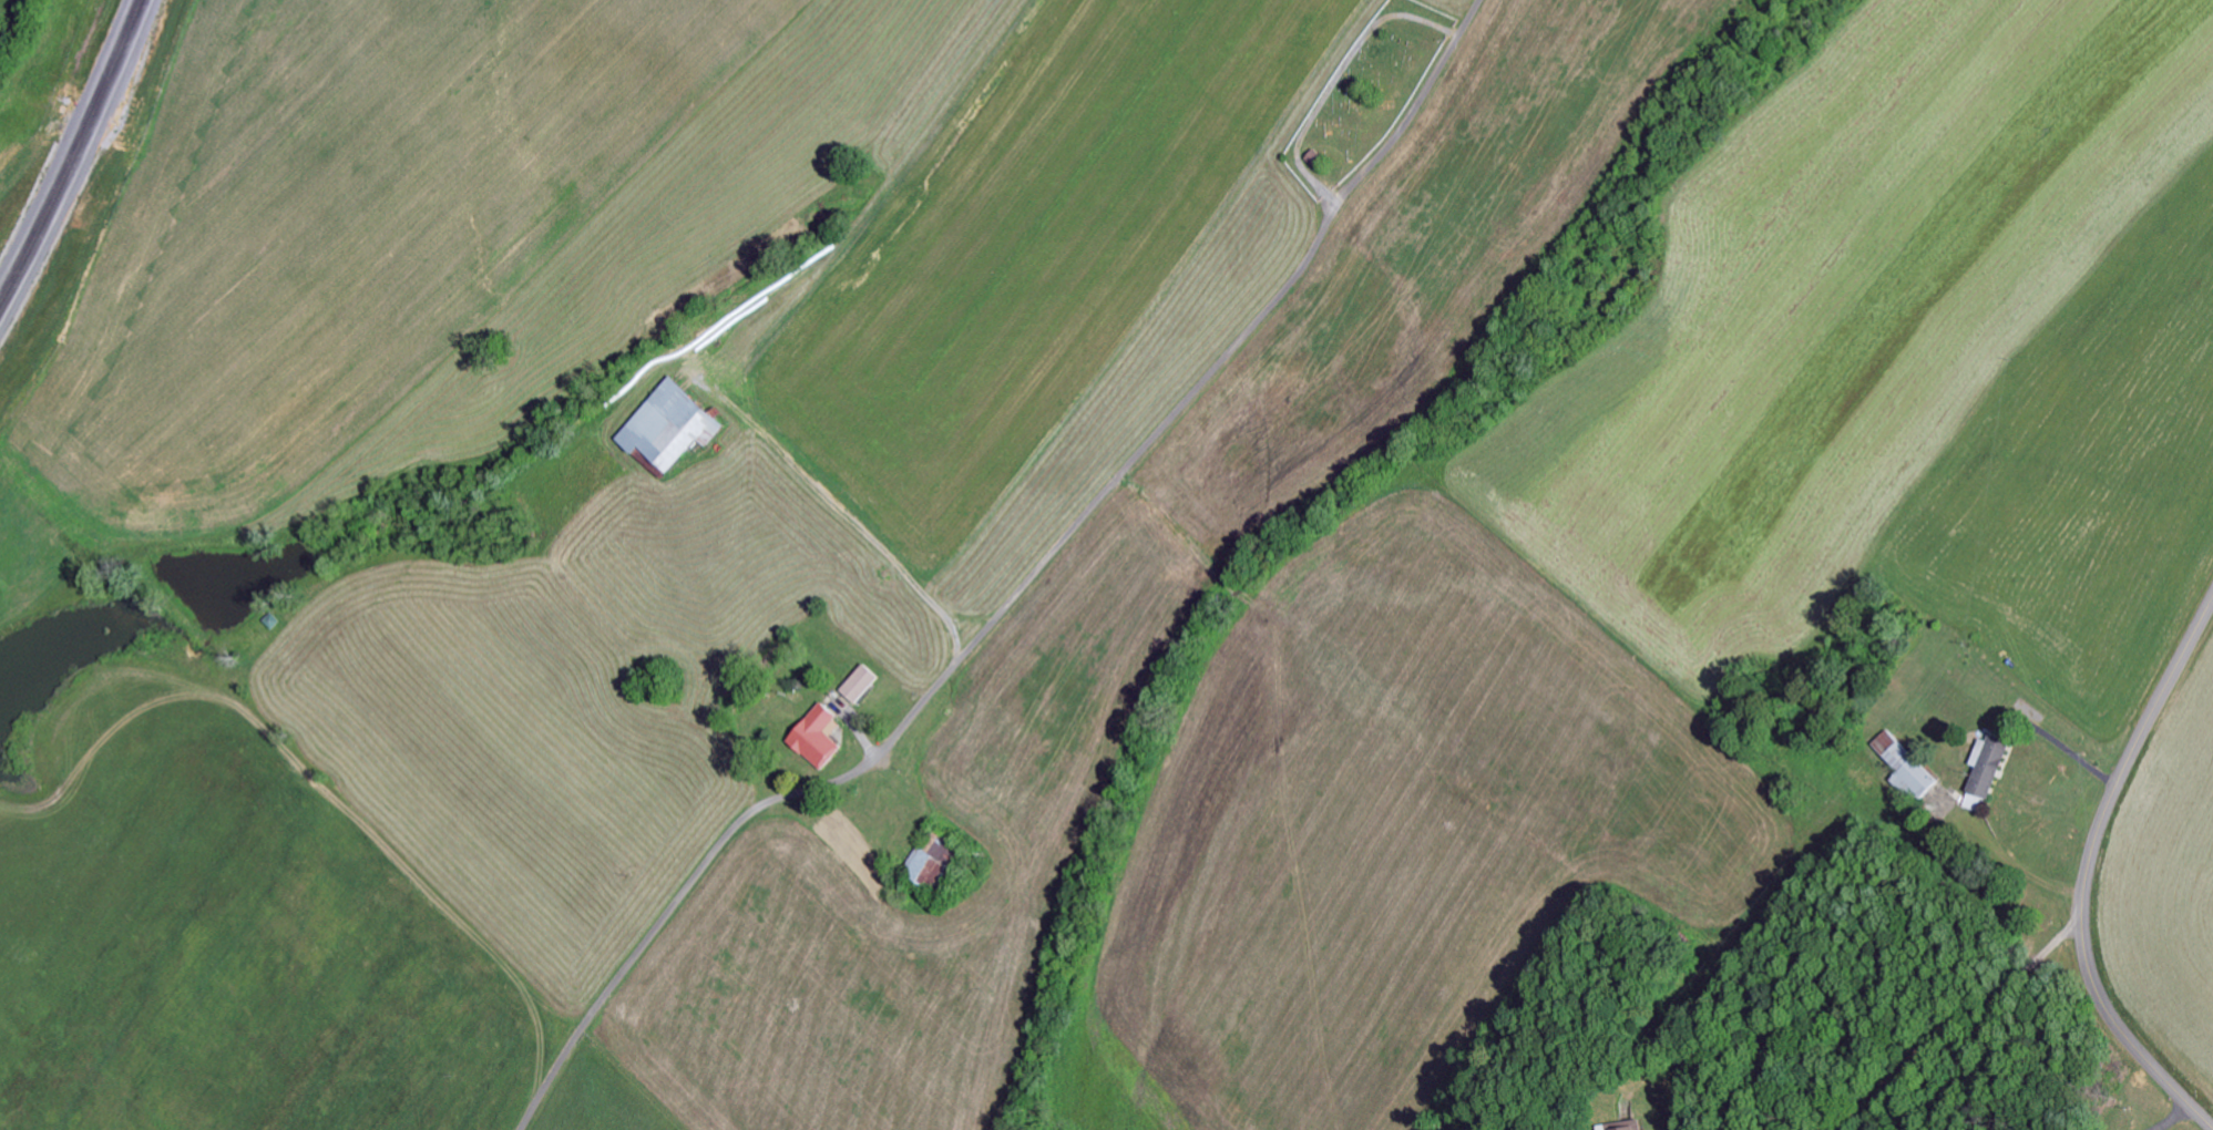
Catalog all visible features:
park: (1365, 92)
road: (71, 145)
building: (660, 430)
road: (1017, 590)
building: (852, 687)
building: (809, 739)
building: (1899, 769)
building: (1979, 772)
road: (1505, 871)
road: (2087, 871)
building: (919, 873)
road: (1772, 936)
building: (1620, 1127)

